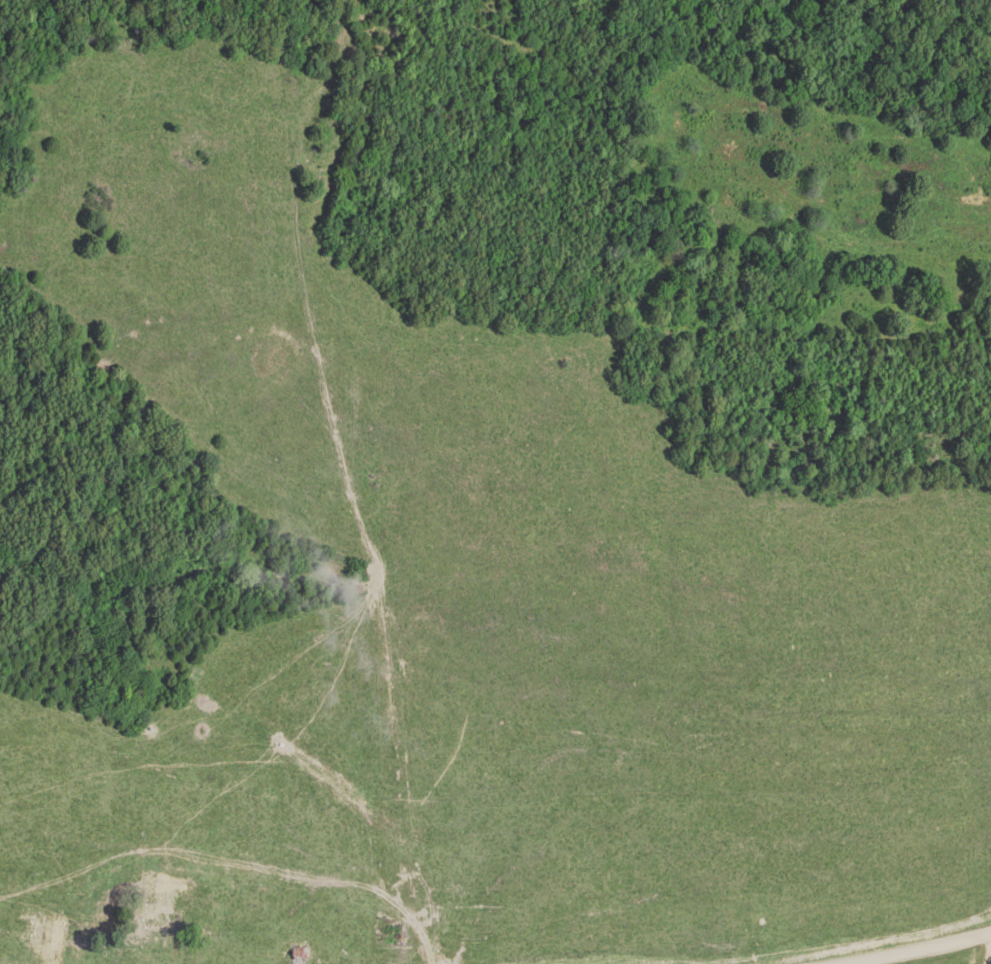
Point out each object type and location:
road: (890, 942)

